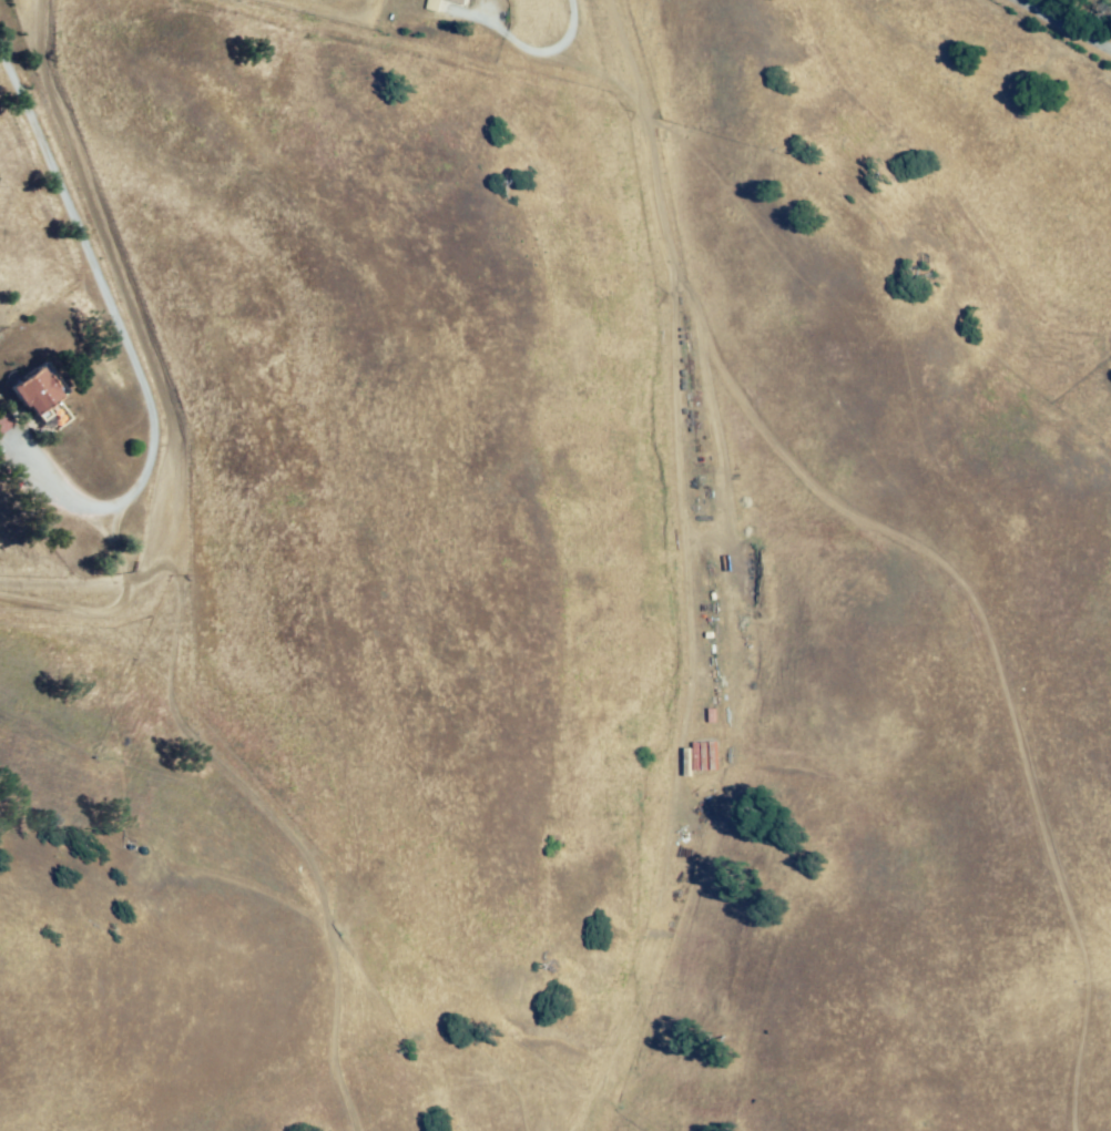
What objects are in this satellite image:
building: (447, 2)
road: (1058, 29)
road: (1020, 214)
road: (145, 379)
building: (30, 393)
road: (1069, 714)

